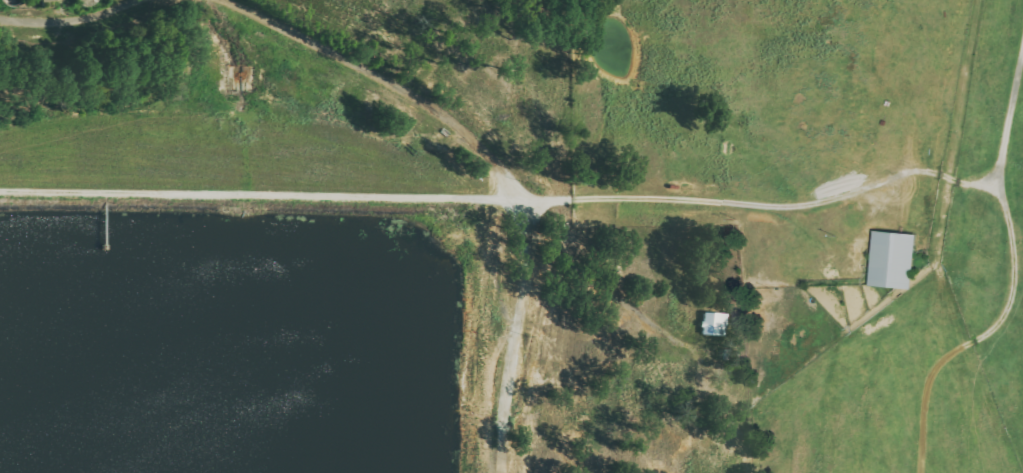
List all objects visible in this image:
road: (7, 0)
building: (48, 0)
road: (513, 176)
building: (890, 259)
road: (1011, 270)
building: (716, 324)

